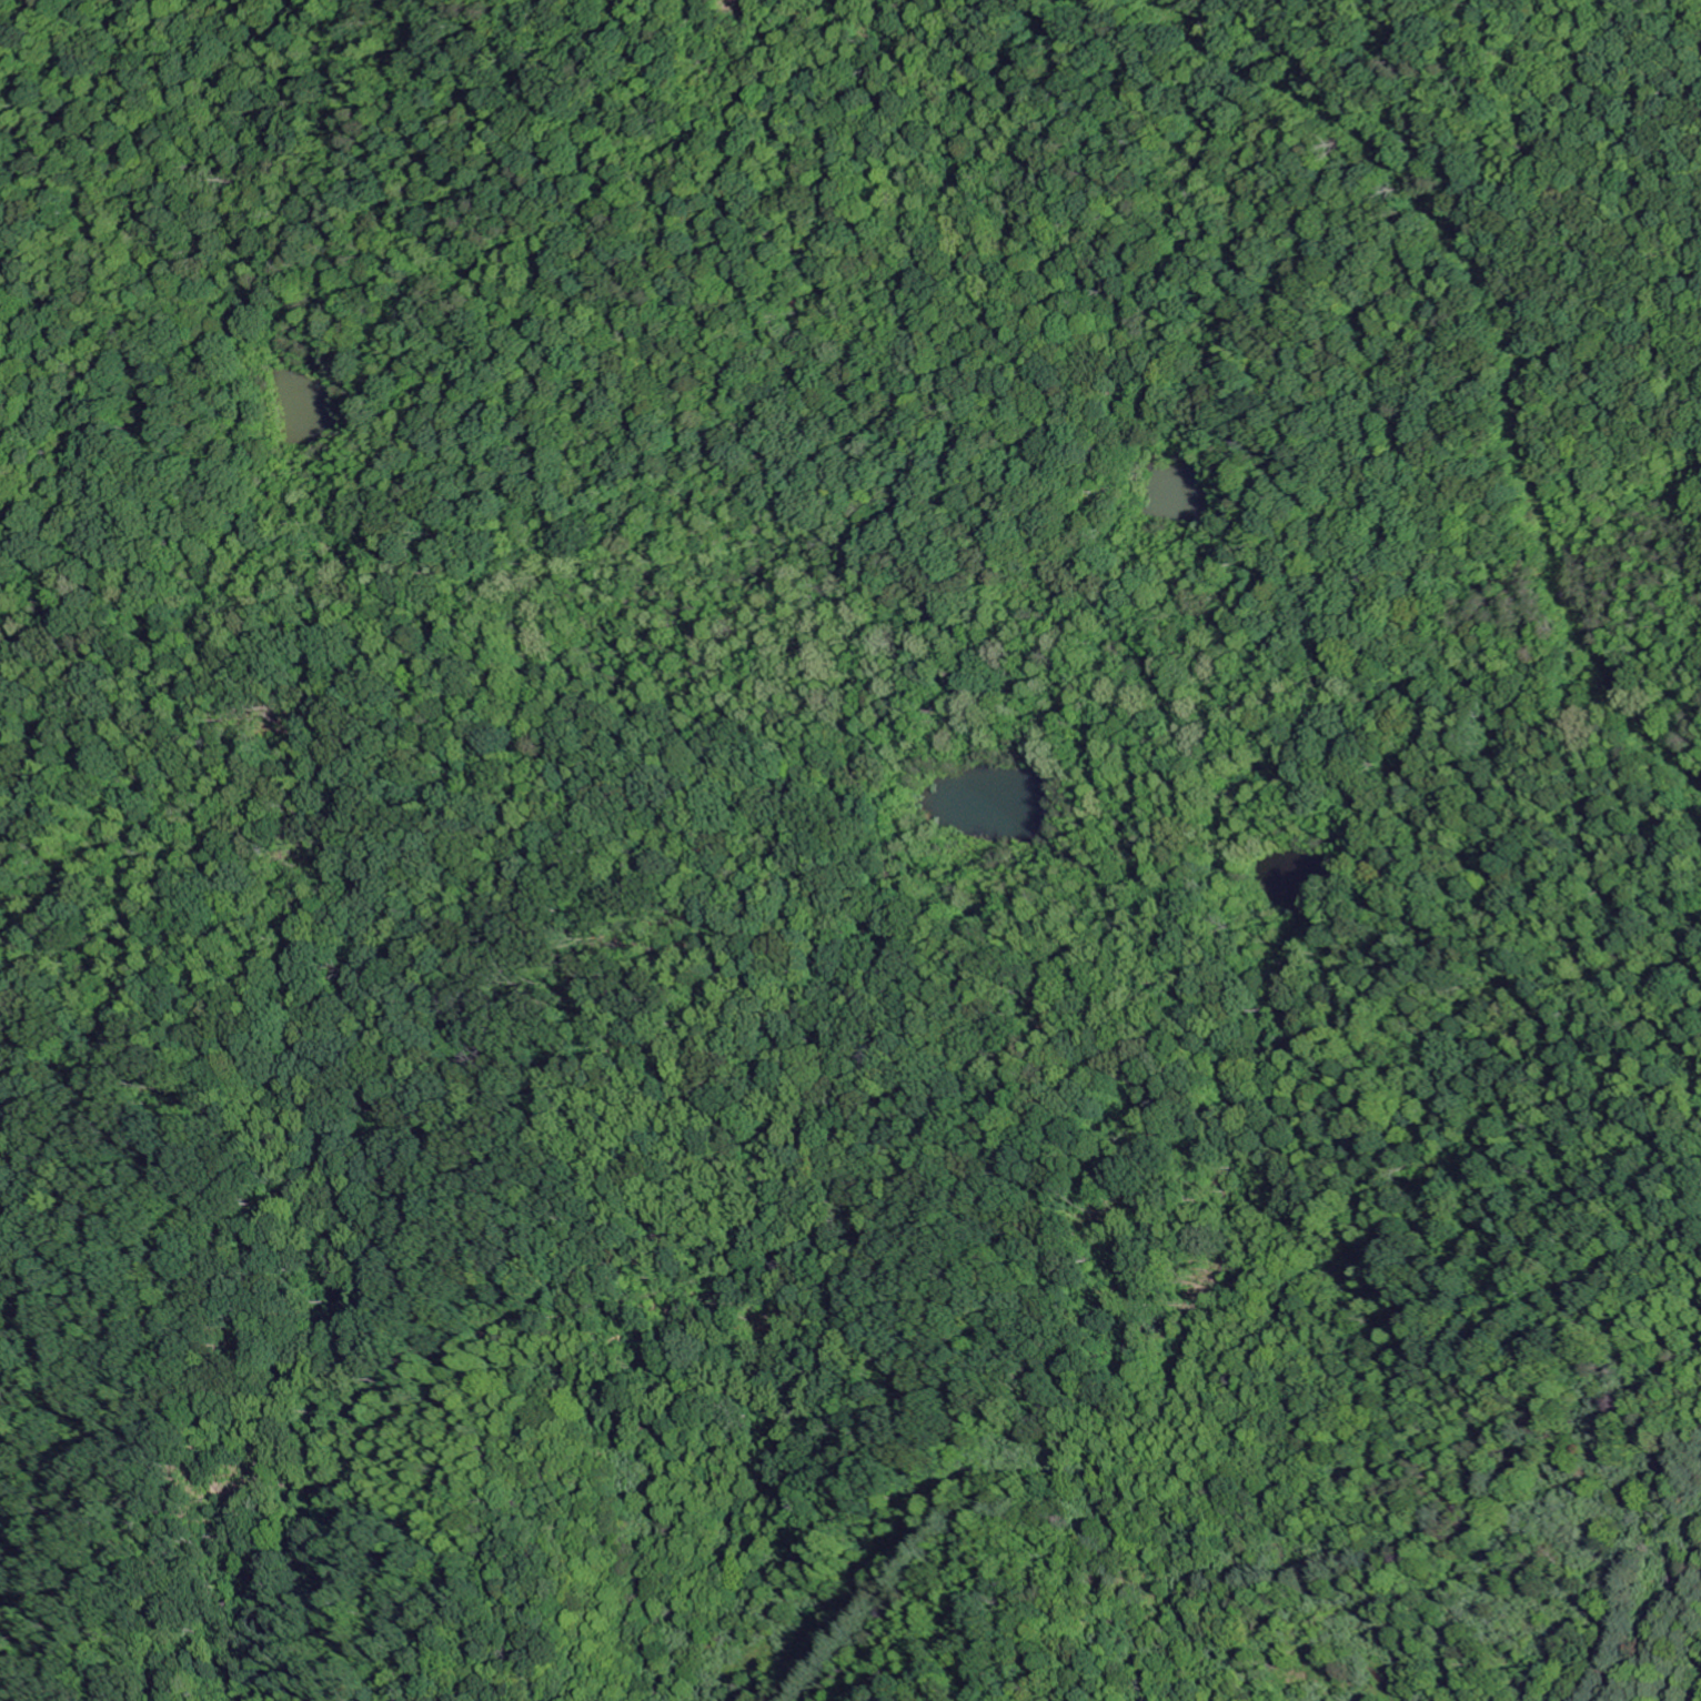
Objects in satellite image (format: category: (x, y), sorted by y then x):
road: (1608, 1653)

